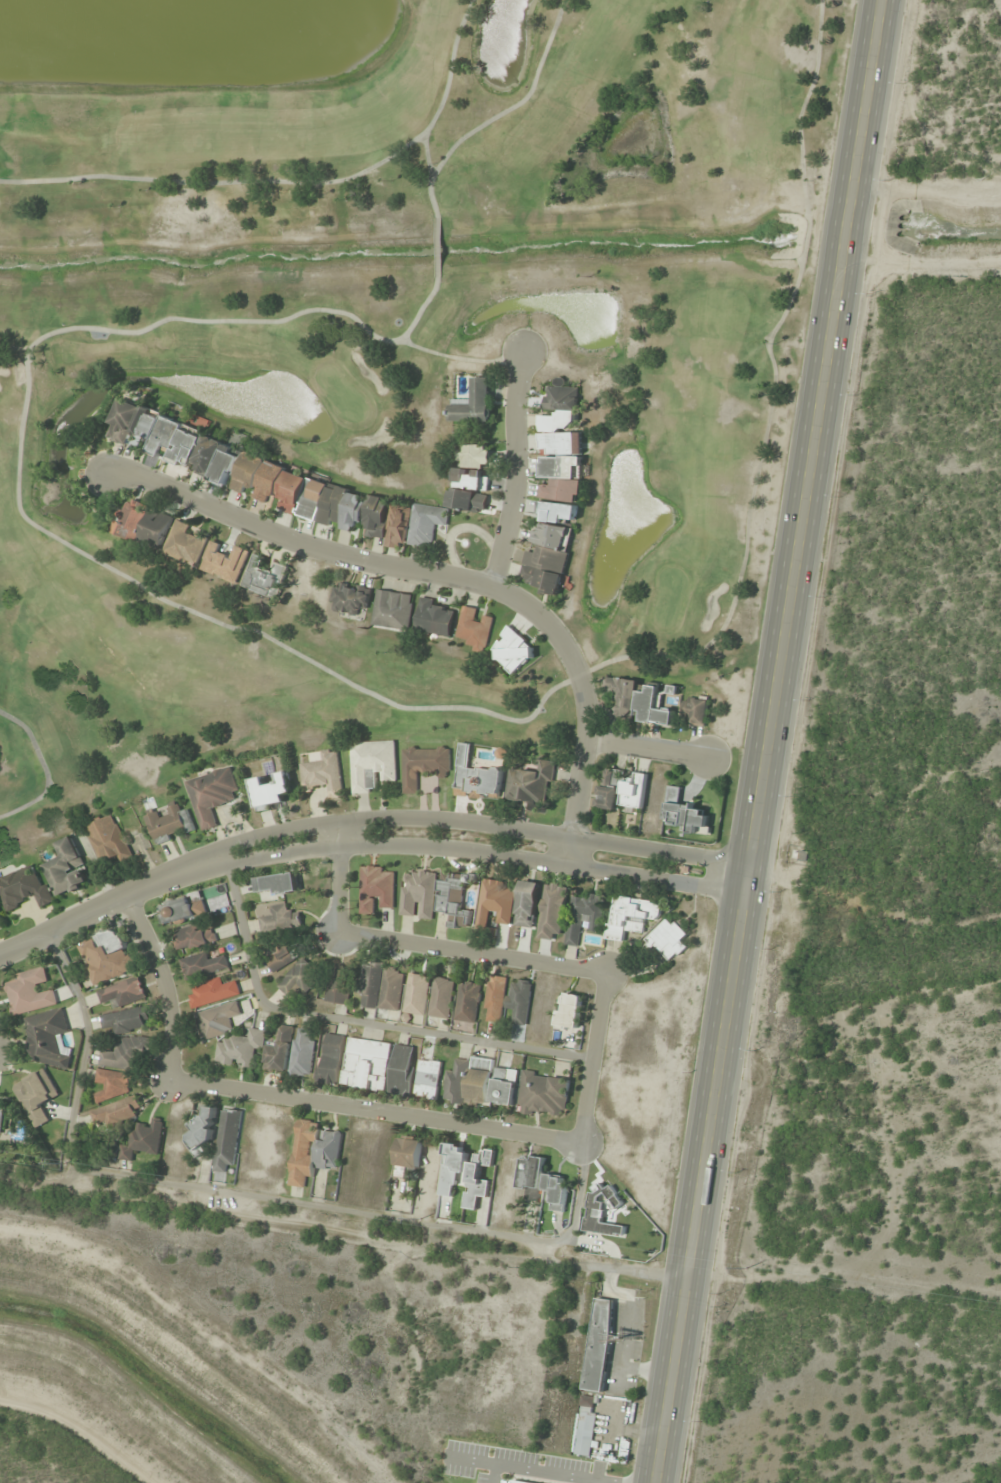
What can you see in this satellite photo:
building: (474, 403)
building: (561, 444)
building: (476, 456)
road: (517, 467)
building: (239, 468)
building: (469, 490)
building: (377, 517)
building: (142, 524)
building: (415, 524)
building: (187, 544)
building: (549, 546)
building: (225, 562)
road: (442, 576)
building: (265, 577)
building: (350, 598)
building: (393, 609)
building: (434, 618)
building: (475, 628)
building: (516, 649)
building: (638, 701)
building: (696, 710)
road: (772, 741)
road: (648, 749)
building: (502, 754)
building: (373, 765)
building: (424, 765)
building: (323, 773)
building: (477, 778)
building: (531, 784)
building: (271, 791)
building: (634, 791)
building: (213, 794)
building: (609, 794)
building: (686, 813)
building: (170, 822)
road: (365, 829)
building: (109, 840)
building: (68, 868)
building: (278, 885)
building: (24, 888)
building: (376, 888)
building: (419, 895)
building: (453, 899)
building: (495, 902)
building: (528, 904)
building: (183, 909)
building: (553, 912)
building: (282, 915)
building: (631, 916)
building: (585, 917)
building: (0, 920)
building: (196, 937)
building: (669, 939)
building: (107, 956)
building: (282, 957)
building: (202, 965)
building: (300, 978)
building: (339, 986)
building: (383, 987)
building: (31, 992)
building: (124, 992)
building: (214, 992)
building: (417, 995)
building: (442, 997)
building: (495, 999)
building: (520, 1000)
building: (468, 1002)
building: (570, 1010)
building: (127, 1020)
building: (221, 1020)
building: (48, 1038)
building: (241, 1048)
building: (280, 1049)
building: (304, 1052)
building: (127, 1053)
building: (332, 1059)
building: (367, 1065)
building: (403, 1070)
building: (429, 1079)
building: (457, 1082)
building: (480, 1082)
building: (114, 1084)
building: (504, 1088)
building: (545, 1094)
building: (37, 1097)
building: (118, 1113)
building: (2, 1118)
building: (203, 1132)
road: (544, 1136)
building: (227, 1139)
building: (144, 1140)
building: (313, 1151)
building: (407, 1156)
building: (454, 1168)
building: (479, 1176)
building: (543, 1182)
road: (346, 1218)
building: (598, 1345)
building: (586, 1430)

